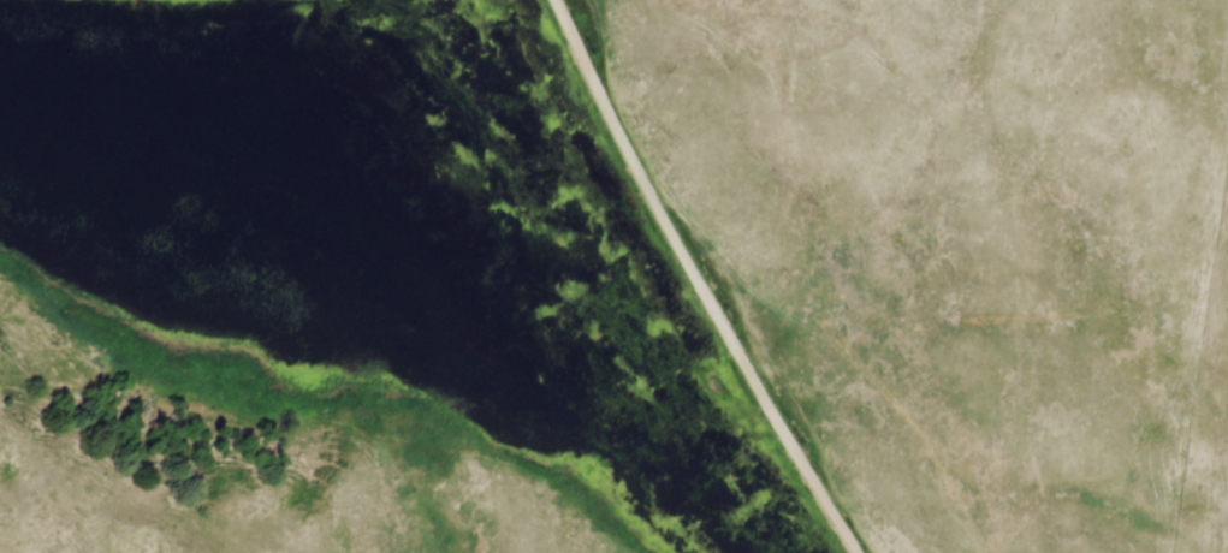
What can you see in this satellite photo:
road: (700, 284)

